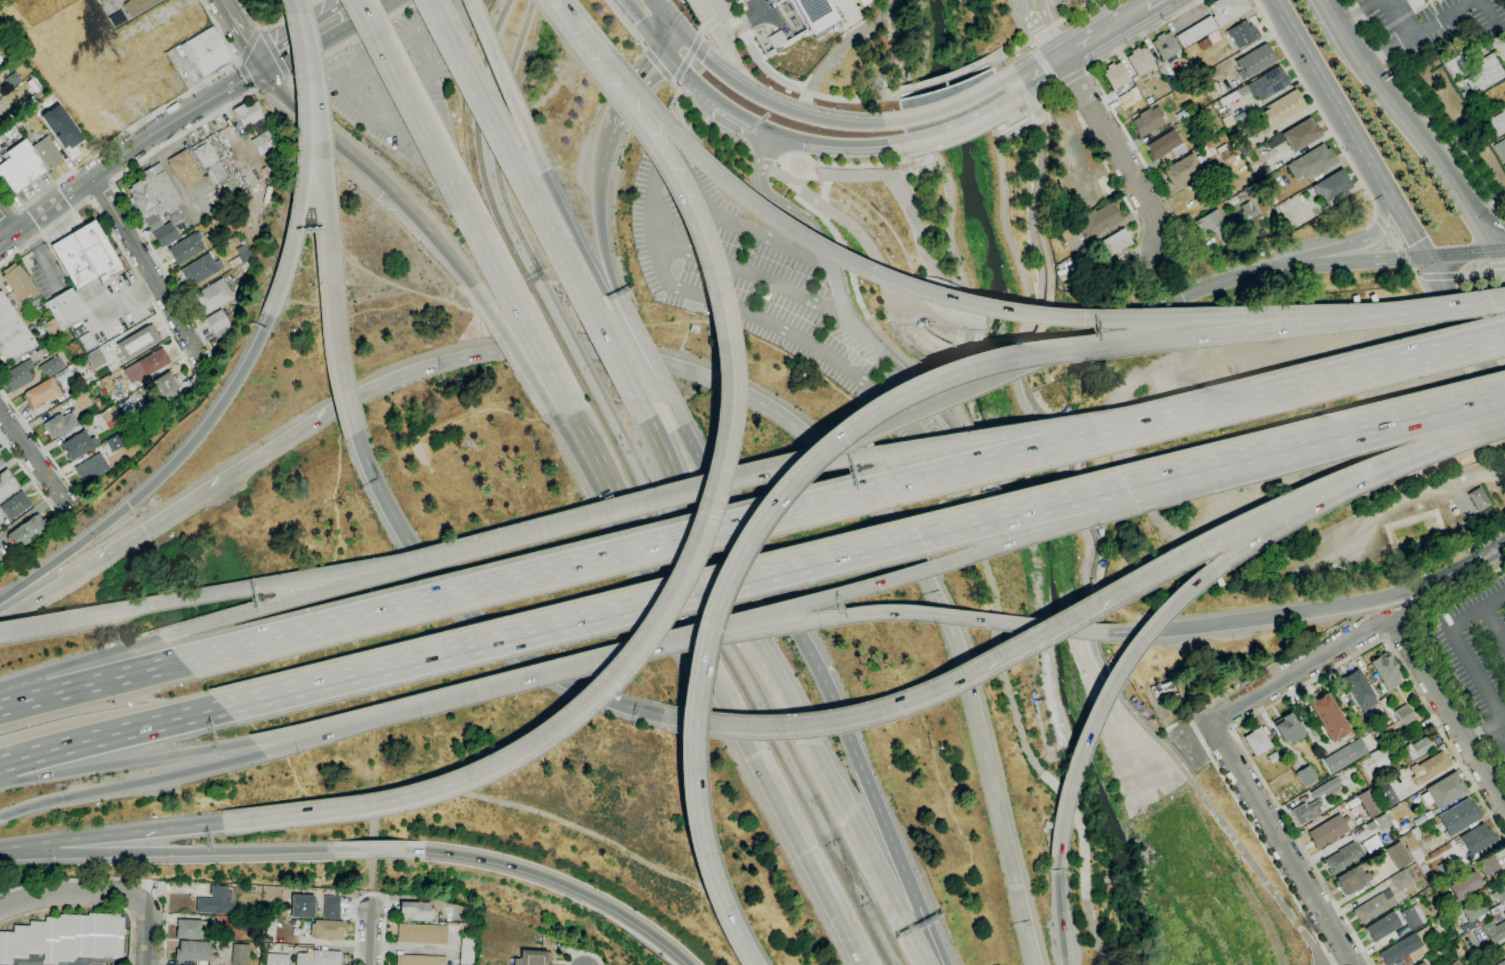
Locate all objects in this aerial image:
building: (745, 0)
building: (100, 1)
road: (1172, 1)
building: (863, 2)
building: (740, 3)
building: (138, 6)
road: (1158, 10)
building: (1226, 10)
road: (1357, 10)
road: (730, 11)
parking lot: (1042, 11)
road: (666, 12)
road: (1490, 13)
road: (724, 14)
road: (762, 14)
building: (814, 14)
road: (1110, 14)
road: (1402, 17)
building: (117, 19)
road: (1061, 20)
road: (272, 23)
road: (626, 24)
road: (646, 24)
traffic signals: (676, 25)
road: (1041, 25)
building: (187, 26)
road: (710, 26)
road: (259, 27)
road: (261, 28)
road: (735, 29)
road: (740, 29)
road: (307, 31)
building: (1196, 31)
road: (1417, 31)
road: (242, 34)
building: (1242, 34)
road: (924, 35)
road: (671, 36)
road: (724, 37)
road: (329, 38)
building: (776, 39)
road: (1071, 39)
road: (1105, 40)
building: (1208, 40)
road: (349, 42)
road: (249, 44)
building: (1166, 46)
traffic signals: (666, 48)
building: (134, 50)
park: (894, 50)
road: (837, 51)
building: (209, 52)
road: (1306, 52)
road: (274, 53)
road: (1004, 54)
road: (1060, 56)
road: (688, 58)
road: (1040, 58)
road: (238, 60)
building: (1141, 61)
building: (1254, 61)
road: (237, 62)
road: (660, 65)
road: (1028, 66)
building: (1454, 66)
traffic signals: (262, 69)
road: (500, 73)
road: (1048, 73)
building: (116, 74)
building: (1485, 74)
road: (466, 75)
building: (1115, 75)
road: (193, 76)
road: (246, 76)
road: (688, 76)
road: (1072, 77)
road: (289, 78)
road: (942, 78)
building: (12, 80)
road: (288, 80)
building: (1170, 83)
building: (1268, 83)
road: (271, 84)
building: (34, 85)
parking lot: (403, 85)
road: (1097, 85)
building: (1457, 85)
road: (635, 87)
road: (253, 90)
road: (255, 91)
road: (811, 93)
road: (1013, 94)
building: (1463, 95)
building: (1128, 97)
building: (1230, 97)
road: (1026, 98)
building: (1149, 100)
road: (775, 105)
road: (953, 108)
building: (1281, 109)
road: (1429, 109)
road: (1321, 112)
road: (321, 114)
road: (1017, 115)
road: (1031, 116)
building: (1181, 116)
road: (744, 117)
road: (141, 121)
road: (707, 121)
building: (1147, 121)
building: (1228, 121)
road: (1032, 122)
building: (1498, 123)
road: (1409, 124)
road: (951, 125)
building: (257, 126)
road: (345, 130)
building: (64, 133)
road: (997, 135)
building: (1298, 135)
road: (958, 140)
road: (1000, 140)
road: (839, 143)
road: (1359, 143)
railway: (478, 145)
building: (1166, 145)
railway: (497, 146)
road: (789, 147)
building: (1223, 147)
building: (1245, 147)
road: (435, 148)
building: (1500, 148)
road: (126, 150)
road: (348, 150)
building: (46, 152)
road: (1118, 154)
building: (1226, 154)
road: (761, 155)
road: (304, 159)
road: (780, 159)
road: (937, 160)
building: (26, 161)
road: (789, 162)
building: (1311, 162)
building: (212, 165)
road: (601, 165)
road: (840, 165)
road: (939, 165)
building: (184, 168)
building: (1184, 169)
road: (1108, 170)
road: (893, 171)
road: (895, 174)
building: (11, 177)
building: (1332, 186)
road: (102, 189)
road: (121, 195)
building: (168, 197)
road: (1001, 205)
building: (1078, 210)
building: (151, 213)
road: (8, 216)
building: (1252, 217)
road: (1375, 217)
road: (1500, 217)
flagpole: (80, 218)
road: (1404, 219)
road: (61, 220)
building: (1098, 220)
road: (8, 221)
road: (1504, 222)
building: (1212, 223)
road: (1382, 225)
road: (546, 226)
road: (570, 228)
traffic signals: (432, 234)
road: (116, 239)
road: (1394, 241)
building: (1117, 242)
road: (867, 245)
road: (1501, 247)
building: (186, 248)
traffic signals: (1497, 248)
road: (1332, 250)
road: (1461, 252)
road: (1501, 254)
road: (40, 255)
building: (85, 255)
building: (241, 256)
building: (1078, 256)
traffic signals: (1426, 256)
road: (605, 258)
road: (1405, 258)
road: (1330, 264)
road: (1497, 265)
road: (460, 267)
road: (145, 269)
building: (200, 269)
road: (1474, 275)
road: (1440, 276)
road: (1422, 277)
road: (962, 279)
building: (21, 284)
road: (674, 288)
parking lot: (778, 291)
road: (928, 294)
building: (212, 296)
road: (1478, 303)
road: (842, 307)
building: (65, 308)
road: (115, 308)
road: (1148, 310)
road: (1428, 311)
road: (1465, 322)
building: (218, 324)
building: (51, 328)
building: (13, 332)
road: (336, 332)
building: (85, 338)
building: (140, 340)
road: (539, 344)
road: (513, 347)
railway: (563, 348)
road: (634, 348)
road: (644, 348)
road: (1456, 348)
railway: (580, 349)
road: (582, 349)
road: (611, 350)
building: (95, 358)
building: (146, 365)
building: (51, 366)
road: (421, 369)
building: (17, 376)
building: (166, 384)
road: (1301, 385)
building: (50, 386)
road: (917, 389)
road: (663, 394)
building: (82, 400)
building: (129, 411)
road: (1440, 414)
building: (110, 418)
road: (723, 420)
building: (60, 425)
road: (588, 436)
road: (574, 437)
road: (841, 438)
road: (859, 438)
road: (40, 443)
building: (113, 443)
building: (79, 445)
road: (871, 455)
road: (1251, 458)
road: (34, 460)
building: (0, 461)
building: (90, 466)
road: (1348, 476)
road: (29, 477)
road: (158, 479)
river: (1022, 479)
building: (6, 484)
building: (1477, 498)
building: (15, 505)
road: (181, 506)
road: (542, 529)
building: (26, 531)
road: (1488, 536)
road: (639, 549)
road: (1499, 549)
road: (1185, 554)
road: (984, 555)
traffic signals: (1172, 561)
road: (1207, 570)
road: (1085, 572)
traffic signals: (1197, 578)
road: (1444, 585)
road: (261, 587)
road: (674, 597)
road: (829, 597)
road: (298, 599)
road: (939, 600)
road: (1304, 611)
road: (470, 614)
road: (8, 620)
road: (811, 621)
road: (1415, 622)
road: (1055, 624)
road: (1495, 625)
road: (43, 626)
road: (1401, 628)
road: (1421, 630)
road: (1387, 636)
road: (1459, 646)
parking lot: (1475, 646)
road: (85, 659)
road: (1301, 668)
road: (1263, 670)
building: (1385, 670)
road: (820, 675)
road: (103, 680)
road: (777, 683)
railway: (744, 686)
railway: (760, 688)
building: (1359, 689)
road: (1291, 693)
road: (440, 700)
road: (13, 703)
road: (729, 705)
road: (1449, 711)
building: (1404, 714)
building: (1328, 717)
road: (801, 724)
building: (1288, 728)
road: (1485, 728)
building: (1393, 730)
road: (305, 731)
road: (110, 734)
road: (311, 737)
building: (1257, 741)
building: (1416, 748)
building: (1350, 752)
building: (1382, 752)
road: (1492, 752)
building: (1272, 757)
road: (125, 762)
building: (1394, 765)
building: (1430, 767)
building: (1306, 775)
road: (130, 783)
building: (1327, 788)
building: (1443, 791)
building: (1388, 797)
traffic signals: (62, 798)
building: (1369, 802)
road: (340, 809)
building: (1306, 811)
building: (1458, 816)
building: (1382, 821)
road: (140, 831)
building: (1328, 831)
building: (1476, 838)
road: (1259, 841)
road: (29, 844)
road: (1281, 844)
building: (1371, 844)
building: (1412, 844)
road: (382, 847)
road: (170, 852)
building: (1398, 855)
building: (1343, 858)
building: (1488, 864)
building: (1422, 866)
building: (1416, 869)
building: (1444, 869)
railway: (848, 872)
railway: (848, 872)
road: (1239, 874)
road: (121, 877)
building: (1352, 880)
building: (1402, 881)
road: (566, 884)
building: (1464, 885)
building: (1433, 886)
road: (71, 892)
building: (1481, 893)
building: (1500, 893)
road: (372, 895)
building: (216, 901)
road: (91, 906)
building: (302, 906)
building: (1374, 906)
building: (331, 907)
building: (1496, 909)
road: (1058, 910)
building: (416, 911)
building: (1504, 913)
building: (1471, 916)
building: (1411, 919)
building: (1435, 923)
building: (1382, 927)
building: (190, 929)
building: (327, 930)
building: (1493, 931)
road: (146, 932)
building: (422, 934)
building: (65, 937)
road: (370, 938)
building: (1409, 946)
road: (852, 948)
road: (855, 948)
building: (466, 949)
building: (193, 951)
building: (240, 954)
road: (584, 954)
building: (1411, 956)
building: (319, 958)
building: (532, 958)
building: (277, 959)
building: (420, 960)
building: (1421, 963)
building: (1500, 963)

